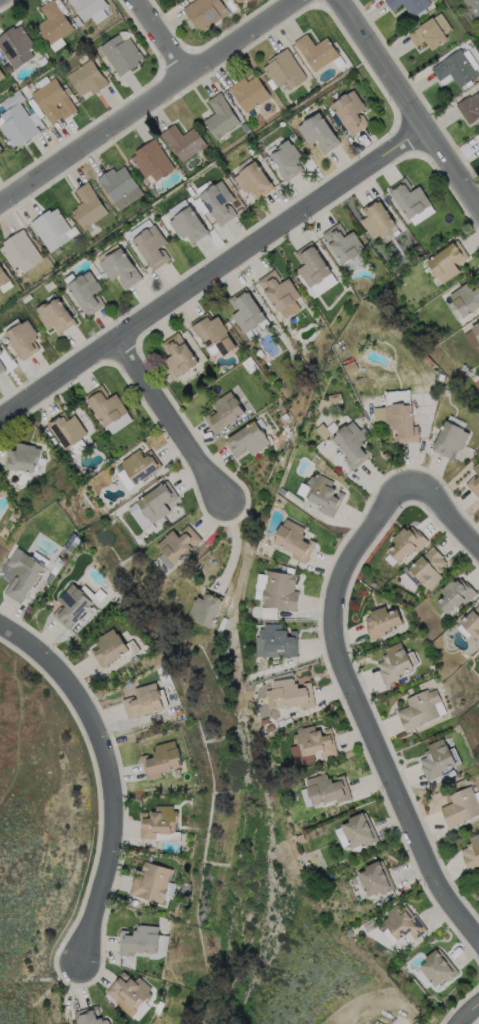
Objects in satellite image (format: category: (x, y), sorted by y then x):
building: (239, 0)
building: (410, 4)
building: (474, 7)
building: (91, 9)
building: (206, 11)
building: (53, 26)
building: (432, 30)
road: (160, 37)
building: (15, 46)
building: (316, 50)
building: (123, 54)
building: (457, 67)
building: (284, 68)
building: (1, 74)
building: (89, 78)
building: (250, 91)
road: (151, 98)
building: (55, 99)
building: (470, 107)
road: (402, 109)
building: (350, 111)
building: (221, 115)
building: (19, 124)
building: (320, 131)
building: (478, 139)
building: (183, 141)
building: (1, 148)
building: (288, 157)
building: (152, 160)
building: (254, 178)
building: (119, 186)
building: (409, 196)
building: (218, 199)
building: (88, 206)
building: (378, 216)
building: (188, 221)
building: (51, 227)
building: (344, 241)
building: (150, 243)
building: (20, 250)
building: (449, 260)
building: (312, 263)
building: (119, 265)
road: (208, 276)
building: (3, 277)
building: (87, 292)
building: (281, 292)
building: (467, 297)
building: (246, 311)
building: (55, 315)
building: (213, 331)
building: (473, 336)
building: (24, 338)
building: (0, 351)
building: (0, 353)
building: (179, 353)
building: (1, 367)
building: (336, 397)
building: (106, 405)
building: (223, 411)
building: (399, 420)
road: (175, 423)
building: (66, 429)
building: (324, 430)
building: (451, 438)
building: (247, 439)
building: (354, 443)
building: (75, 448)
building: (22, 457)
building: (140, 465)
building: (474, 481)
building: (322, 493)
road: (440, 493)
building: (152, 505)
building: (295, 539)
building: (406, 541)
building: (176, 545)
building: (428, 565)
building: (23, 574)
building: (277, 589)
building: (456, 592)
building: (71, 605)
building: (204, 608)
building: (381, 619)
building: (472, 620)
building: (276, 641)
building: (109, 647)
building: (394, 661)
building: (292, 693)
building: (143, 701)
building: (419, 708)
road: (367, 712)
building: (315, 739)
building: (436, 759)
building: (162, 760)
road: (111, 774)
building: (327, 788)
building: (461, 805)
building: (155, 821)
building: (358, 830)
building: (471, 851)
building: (375, 878)
building: (150, 882)
building: (403, 923)
building: (138, 940)
building: (437, 966)
building: (127, 993)
road: (465, 1012)
building: (87, 1016)

